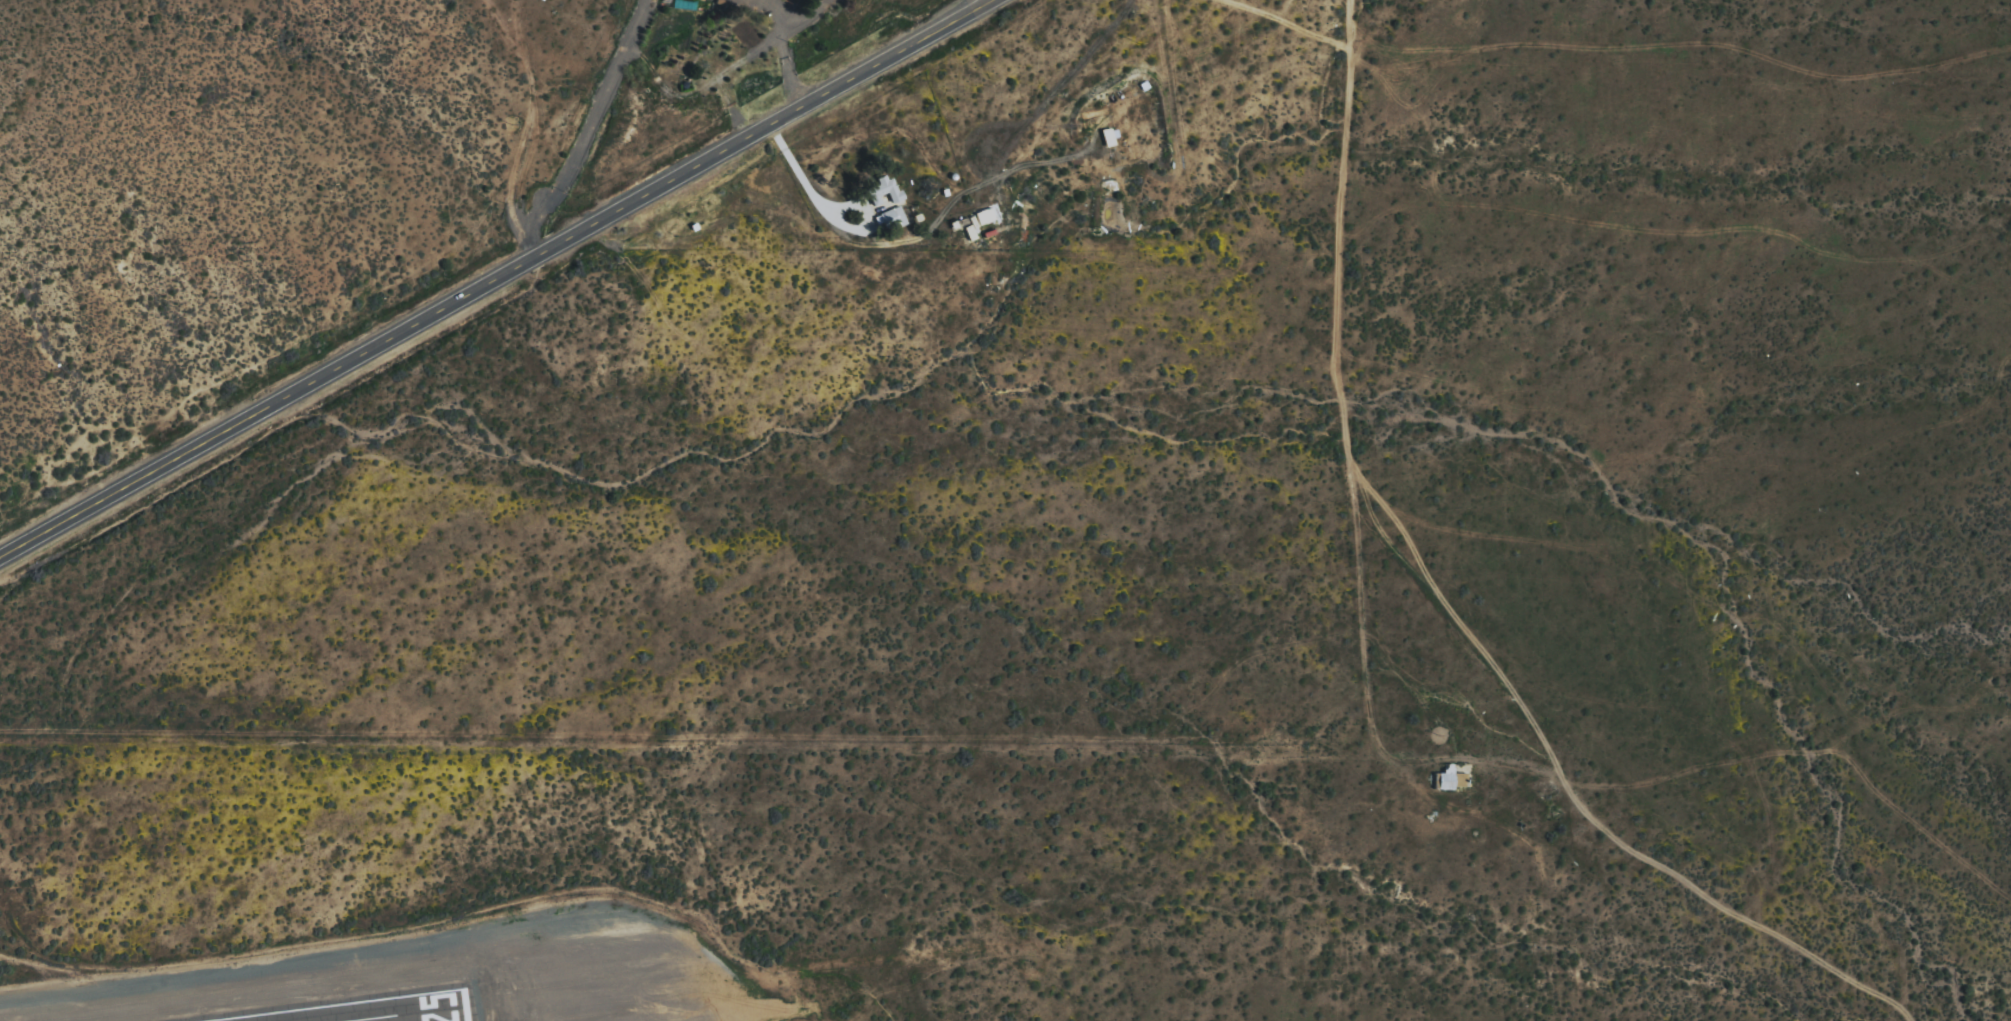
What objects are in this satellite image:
road: (574, 133)
building: (884, 190)
road: (490, 276)
airport: (605, 886)
airport runway: (408, 1013)

